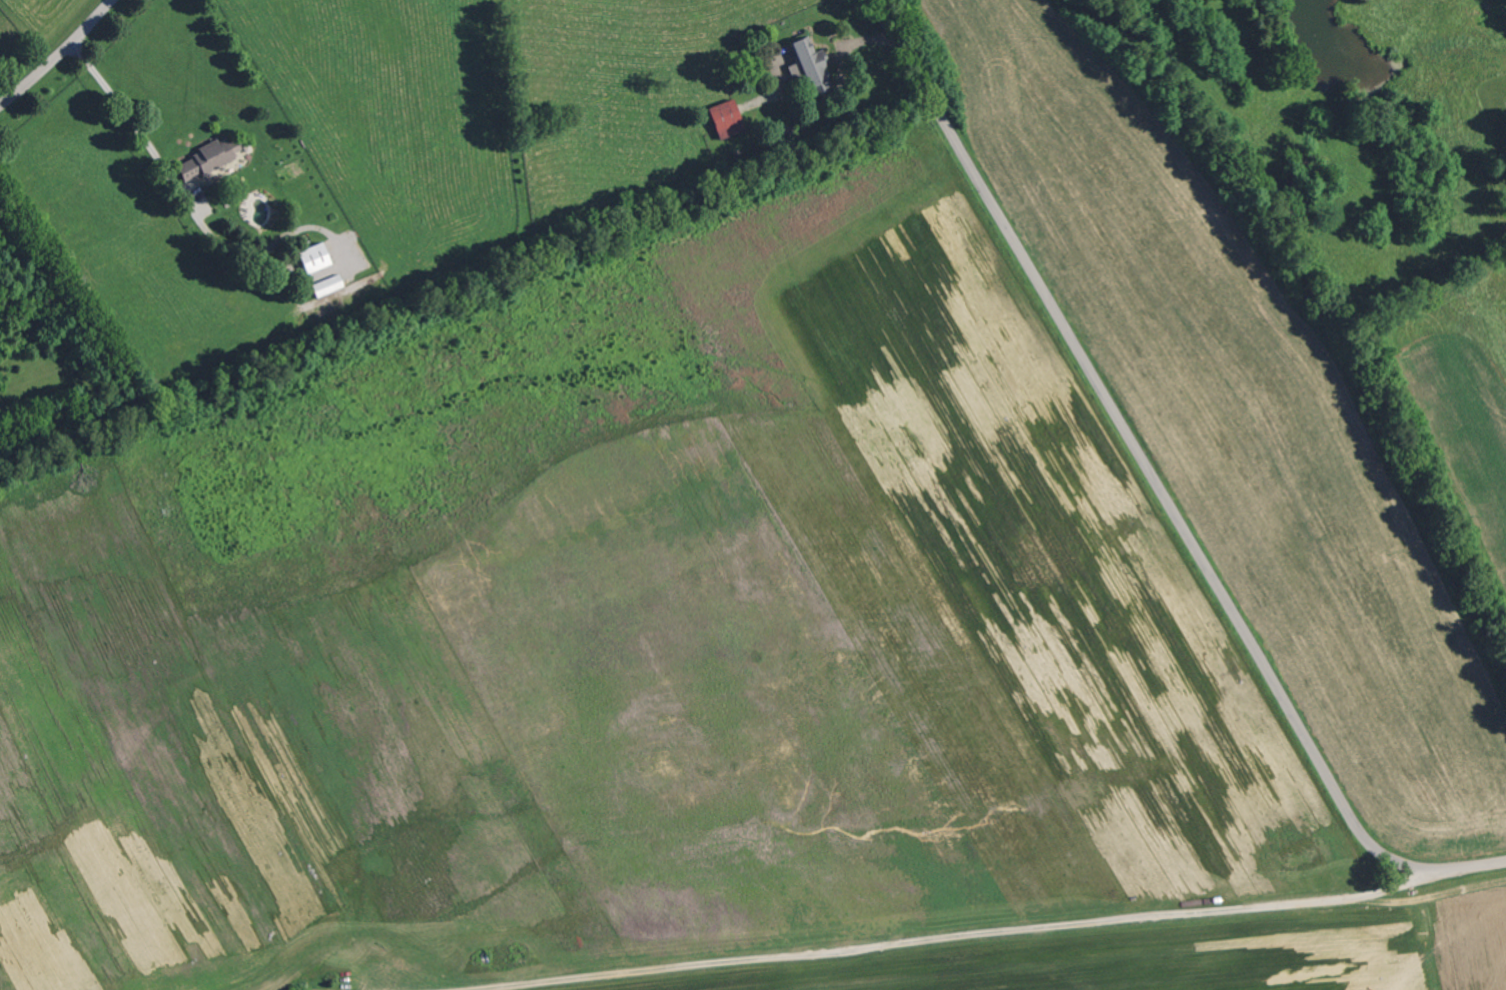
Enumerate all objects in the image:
road: (58, 54)
building: (806, 64)
road: (127, 117)
building: (724, 120)
building: (210, 156)
building: (316, 258)
building: (329, 285)
road: (1161, 480)
road: (938, 937)
road: (315, 982)

